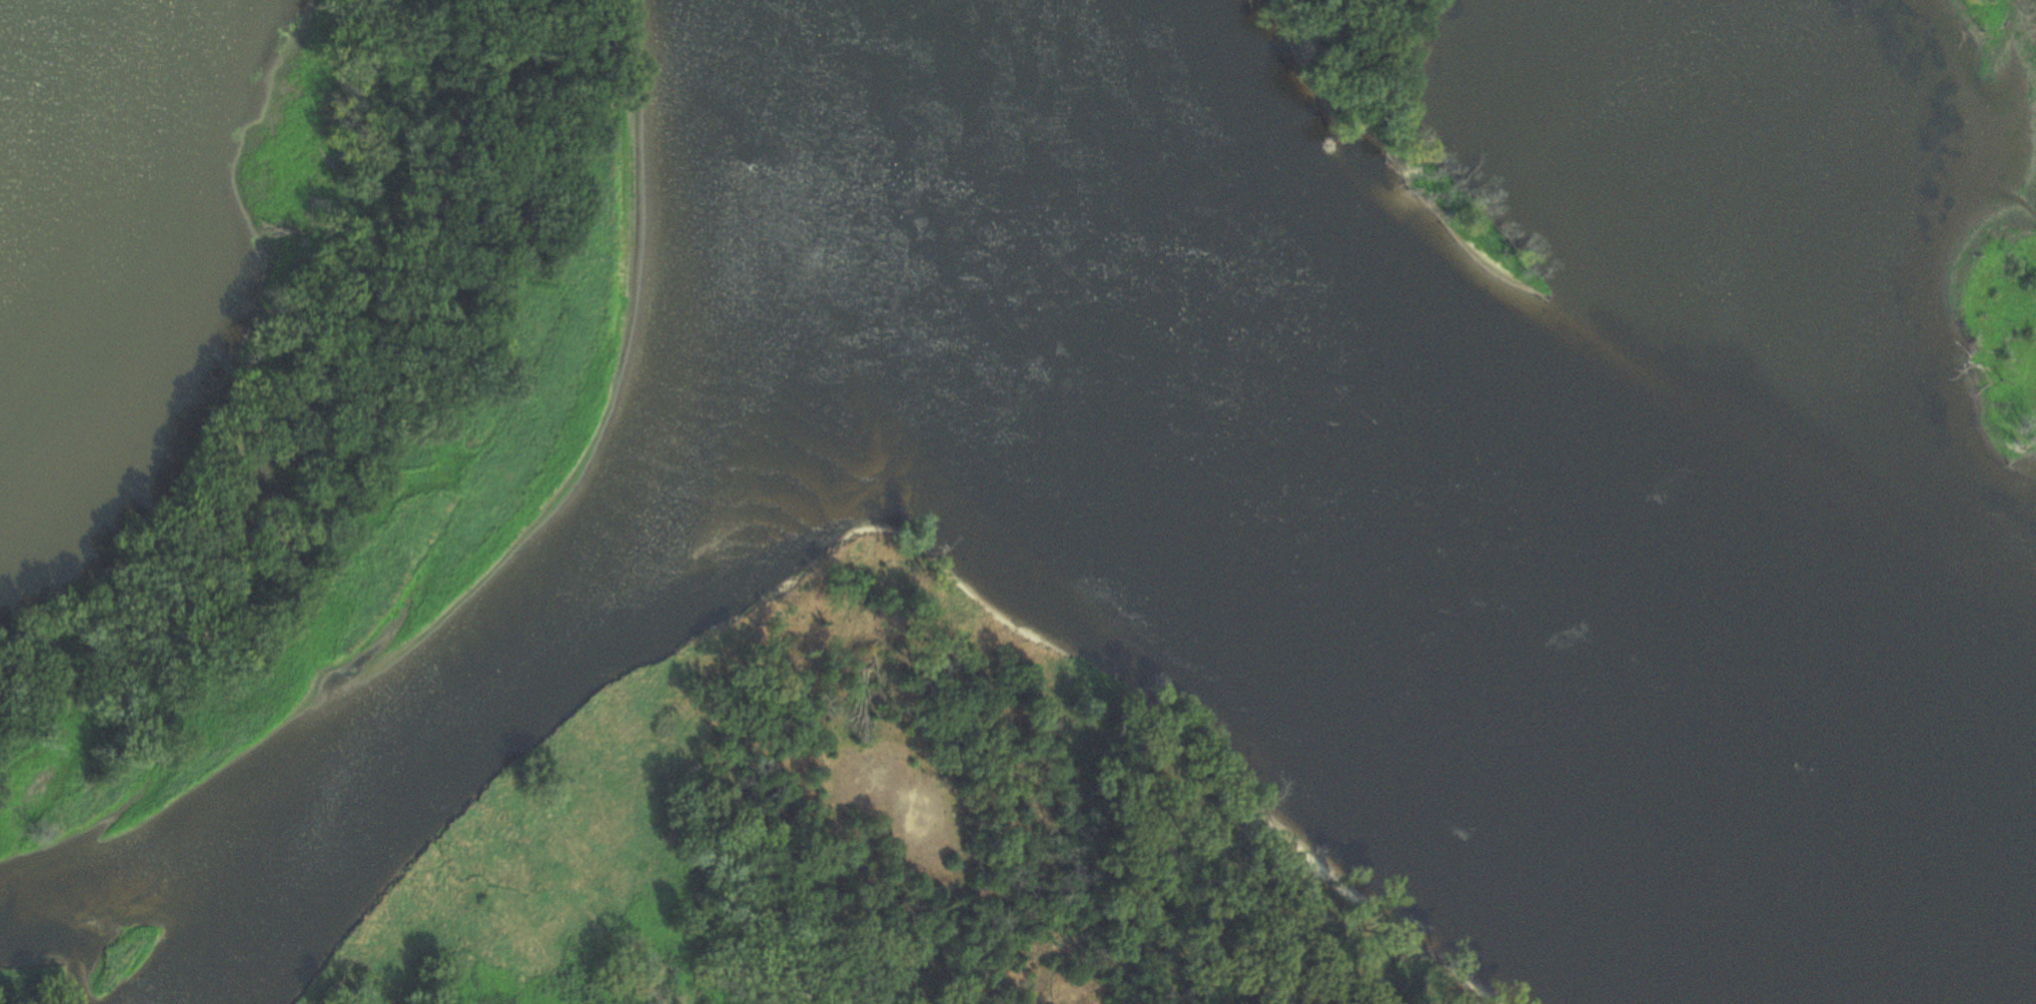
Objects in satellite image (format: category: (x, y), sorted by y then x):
river: (605, 564)
river: (145, 882)

